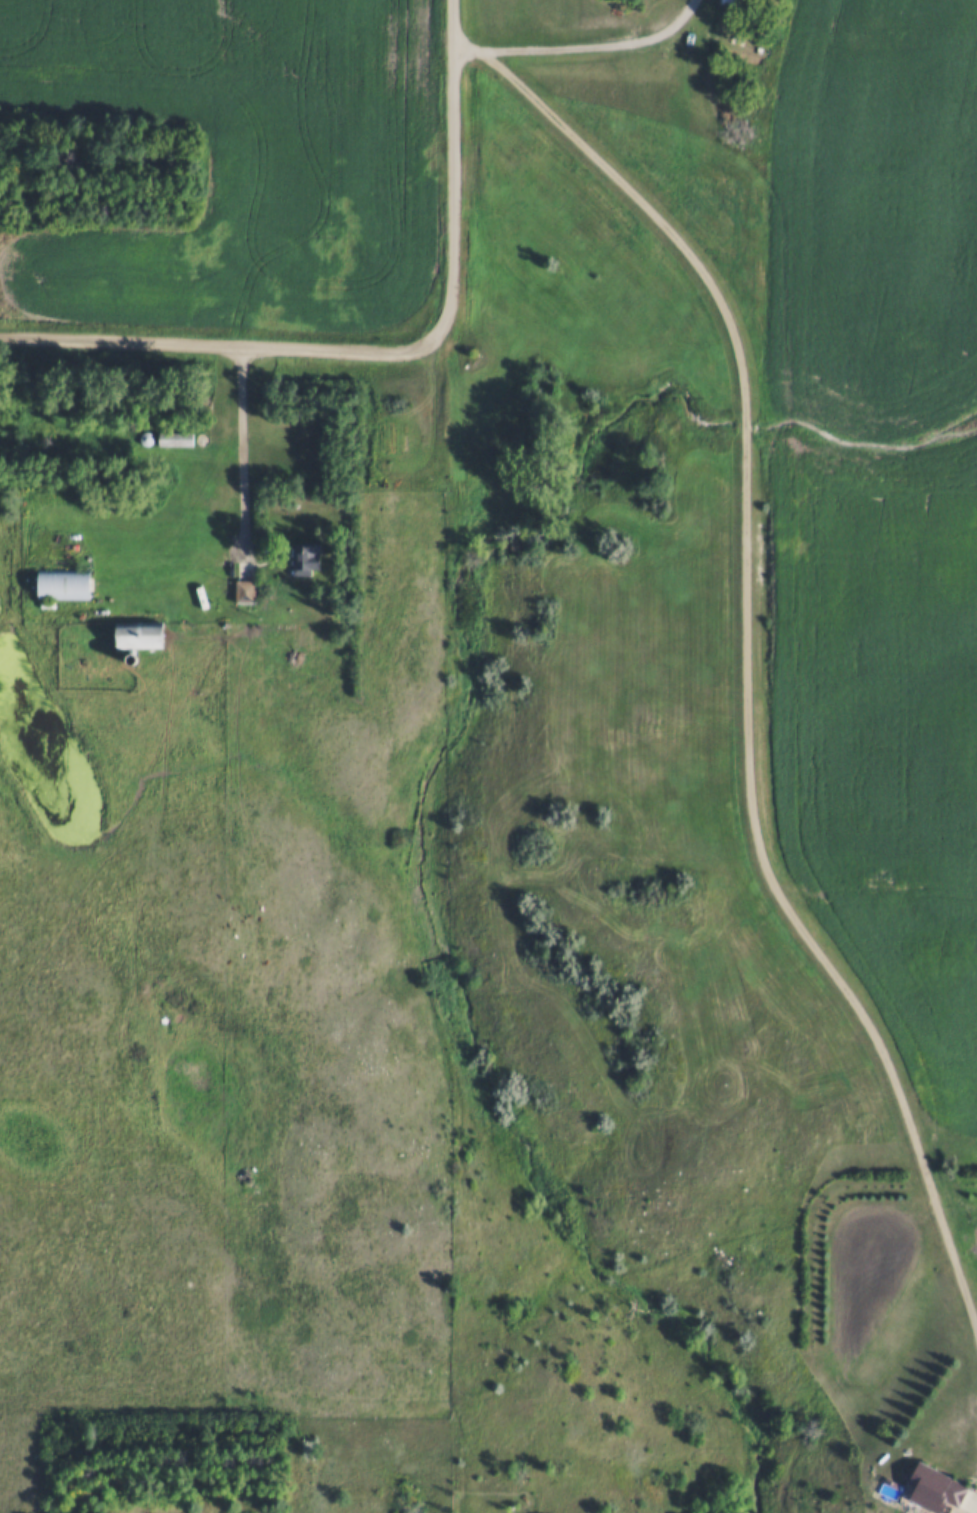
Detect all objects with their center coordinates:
road: (604, 50)
road: (453, 162)
road: (229, 350)
building: (143, 435)
silo: (143, 435)
building: (171, 436)
road: (241, 464)
building: (300, 556)
building: (61, 580)
building: (239, 589)
building: (135, 631)
road: (747, 653)
building: (929, 1486)

